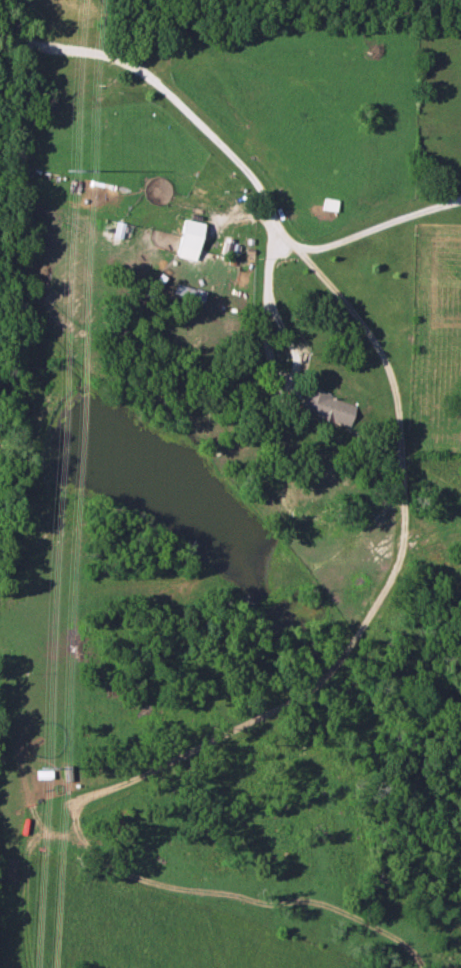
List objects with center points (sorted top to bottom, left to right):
road: (228, 155)
power tower: (70, 170)
building: (329, 205)
building: (188, 239)
road: (270, 352)
building: (325, 407)
road: (374, 595)
power tower: (43, 767)

